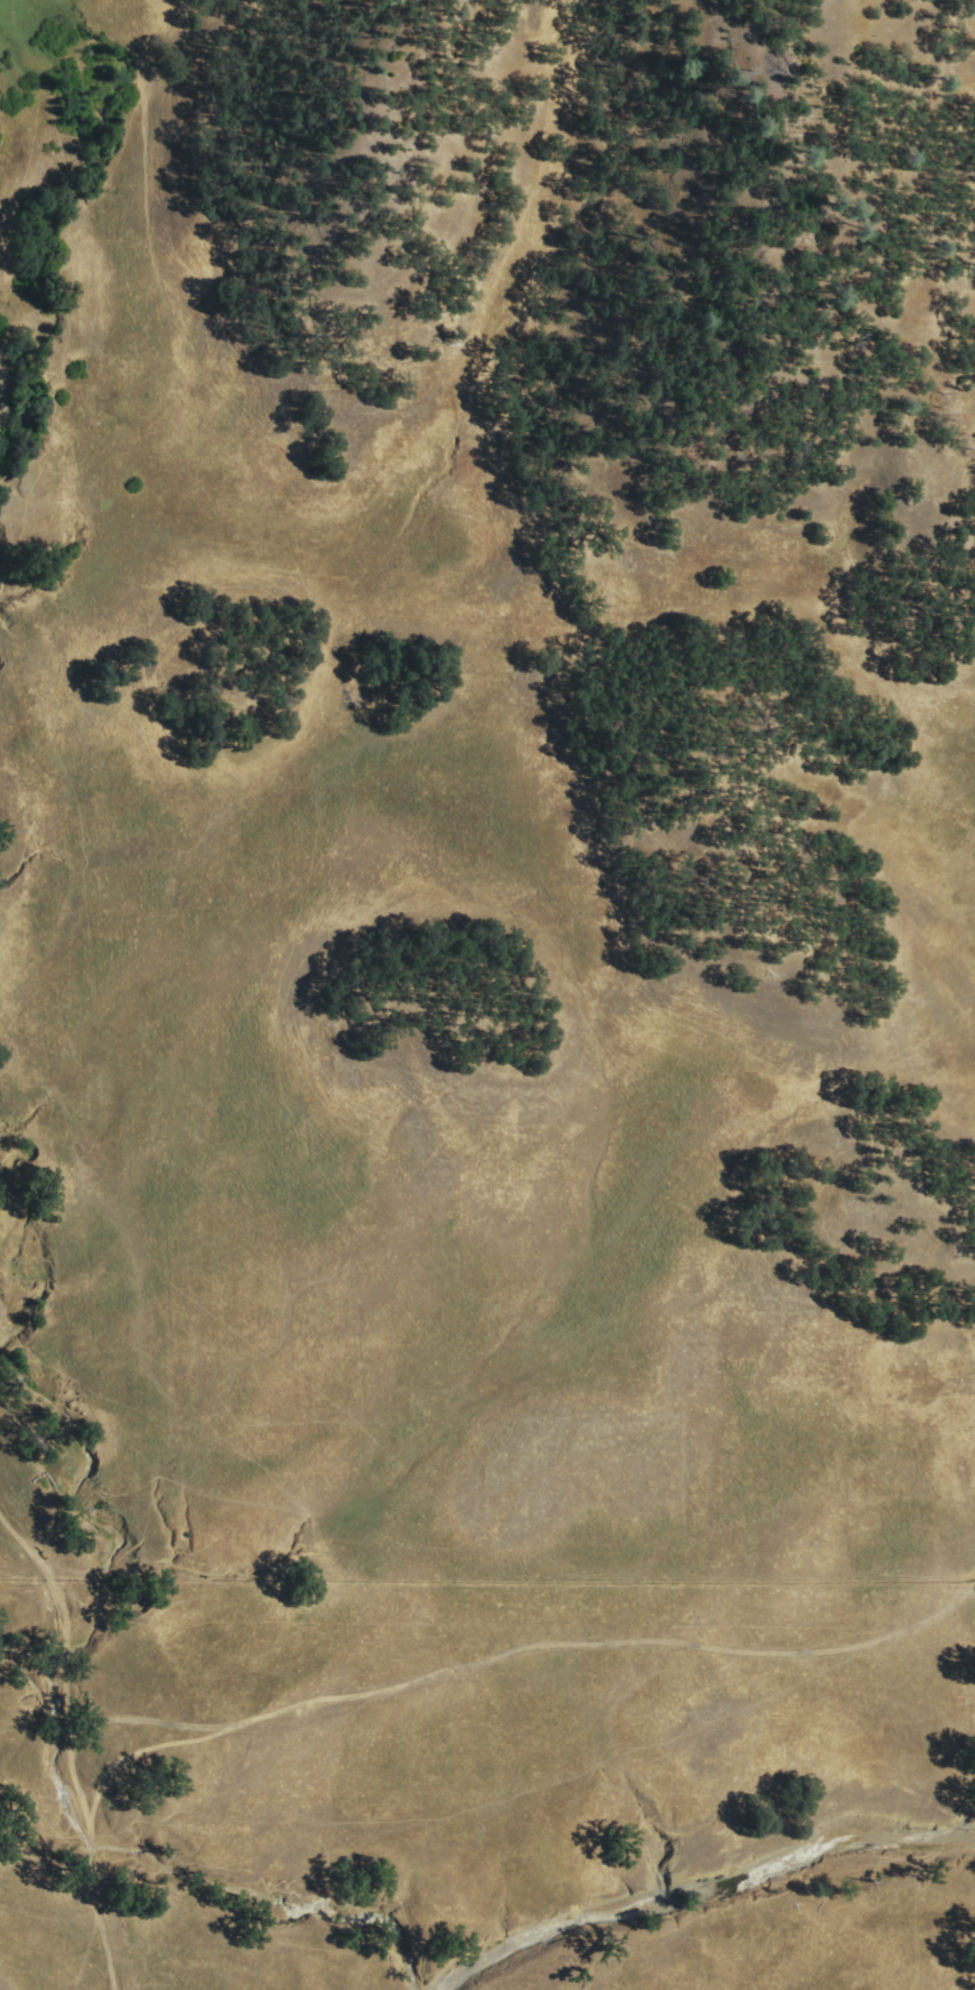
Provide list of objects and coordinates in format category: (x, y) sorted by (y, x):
road: (526, 1648)
road: (72, 1663)
road: (91, 1828)

